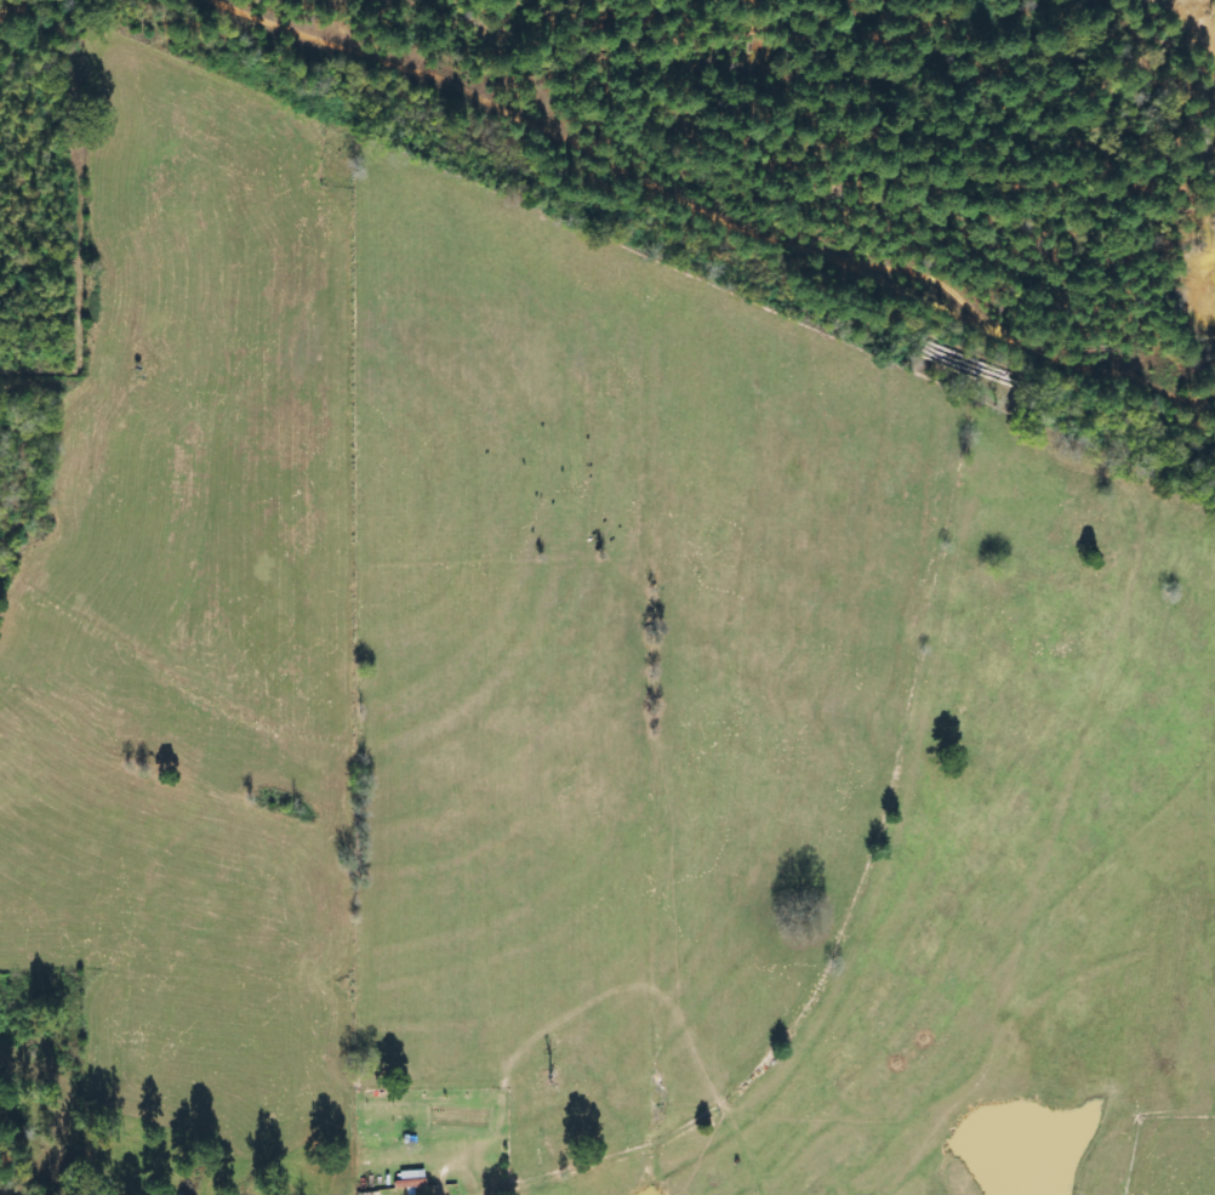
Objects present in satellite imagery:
road: (4, 296)

